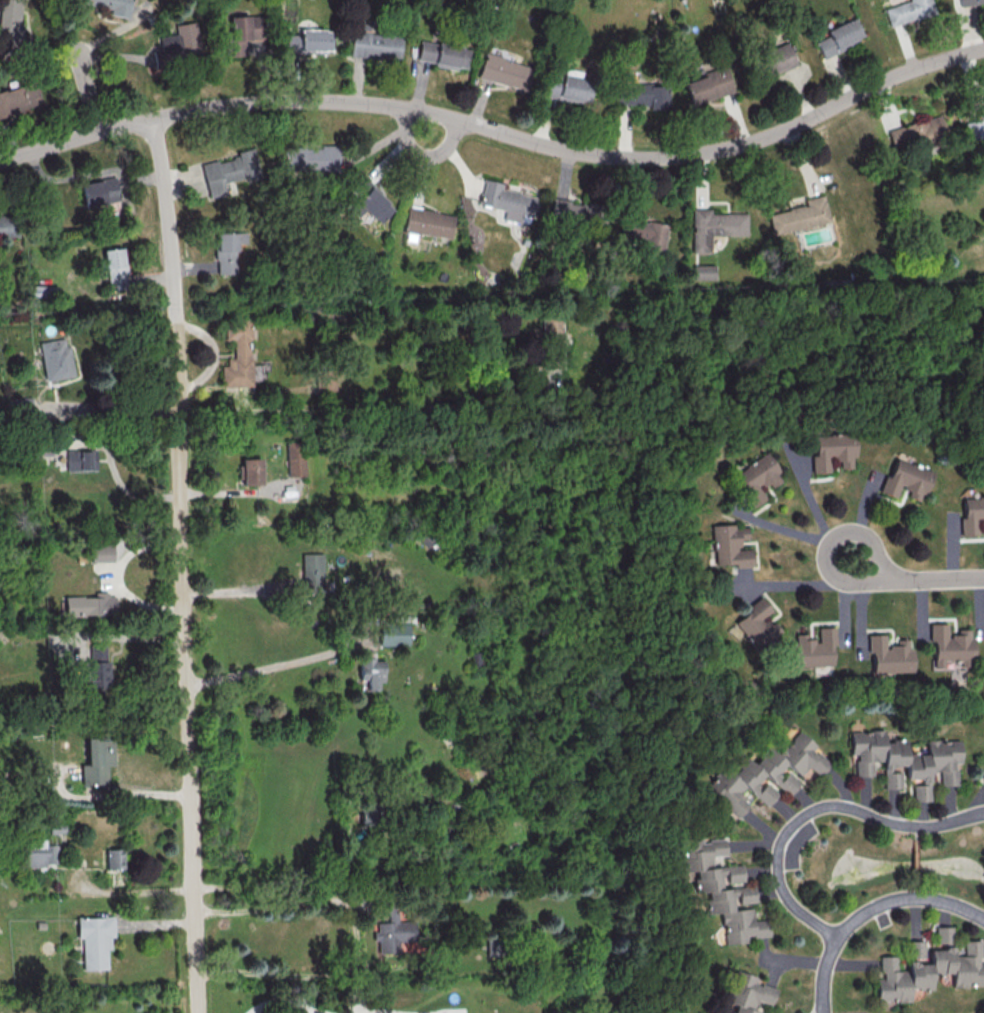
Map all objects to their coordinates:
building: (969, 1)
building: (112, 5)
building: (912, 12)
building: (10, 23)
building: (241, 32)
building: (840, 36)
building: (309, 41)
building: (181, 42)
building: (375, 45)
building: (443, 54)
building: (775, 59)
building: (505, 72)
building: (707, 85)
building: (567, 87)
road: (88, 93)
building: (642, 95)
building: (19, 98)
building: (975, 129)
road: (497, 132)
building: (917, 134)
building: (310, 159)
building: (228, 171)
building: (99, 191)
building: (508, 200)
building: (372, 203)
building: (568, 210)
building: (802, 218)
building: (429, 222)
building: (9, 225)
building: (717, 228)
building: (643, 235)
building: (228, 252)
building: (115, 268)
building: (704, 272)
building: (551, 331)
building: (237, 353)
building: (55, 358)
building: (258, 371)
building: (21, 405)
road: (351, 406)
road: (115, 410)
building: (834, 453)
building: (80, 459)
building: (295, 459)
road: (111, 463)
building: (251, 471)
building: (757, 478)
building: (908, 482)
road: (237, 492)
road: (819, 514)
building: (973, 519)
building: (731, 545)
building: (101, 552)
road: (182, 565)
building: (312, 572)
road: (914, 578)
road: (803, 585)
road: (239, 589)
road: (36, 602)
building: (90, 604)
building: (757, 625)
road: (128, 634)
building: (952, 646)
building: (814, 649)
building: (891, 657)
building: (97, 666)
road: (270, 672)
building: (371, 672)
building: (96, 760)
building: (904, 761)
building: (764, 773)
building: (982, 776)
road: (816, 811)
building: (37, 853)
building: (114, 858)
road: (275, 882)
building: (721, 889)
road: (269, 908)
road: (871, 910)
building: (394, 931)
building: (942, 934)
building: (94, 940)
building: (928, 970)
building: (747, 993)
road: (279, 1002)
road: (371, 1012)
building: (456, 1012)
road: (819, 1012)
road: (820, 1012)

